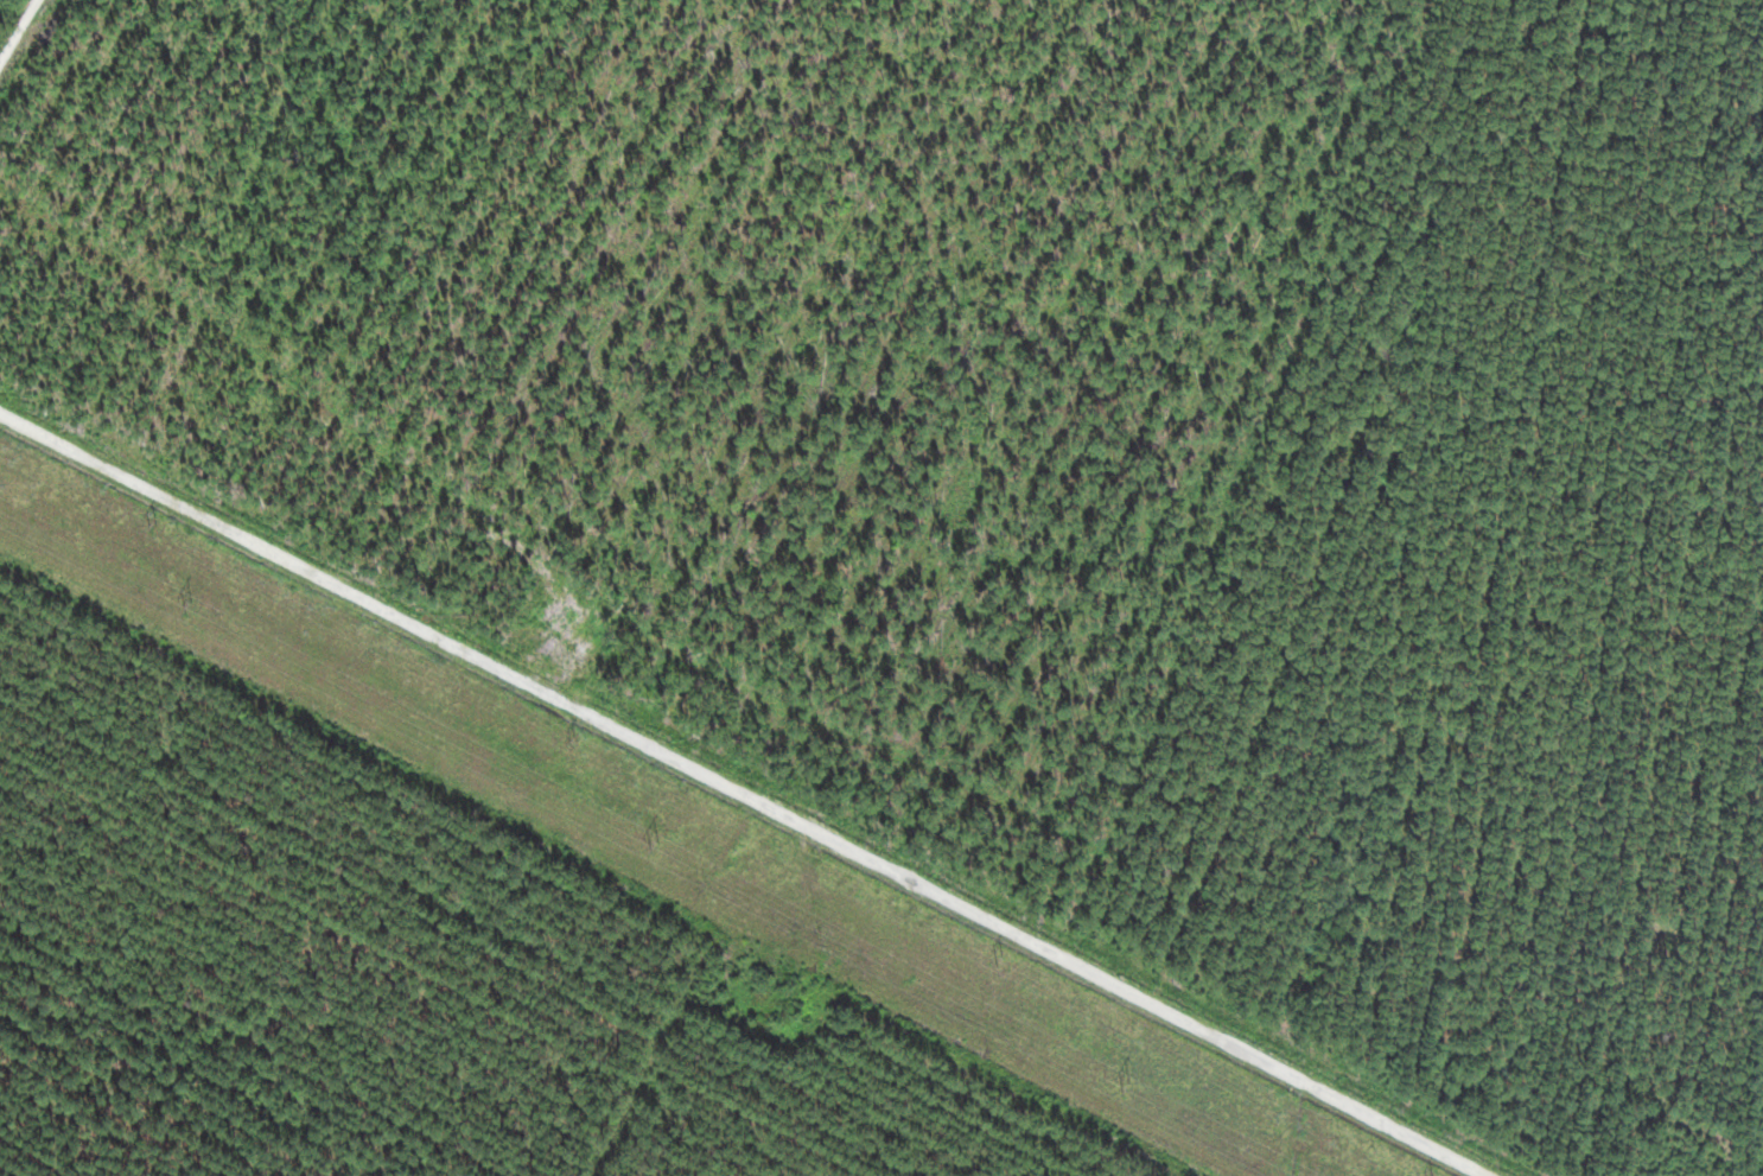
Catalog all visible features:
power tower: (157, 517)
power tower: (190, 606)
power tower: (575, 738)
road: (734, 792)
power tower: (655, 845)
power tower: (1001, 956)
power tower: (1125, 1085)
road: (1758, 1138)

